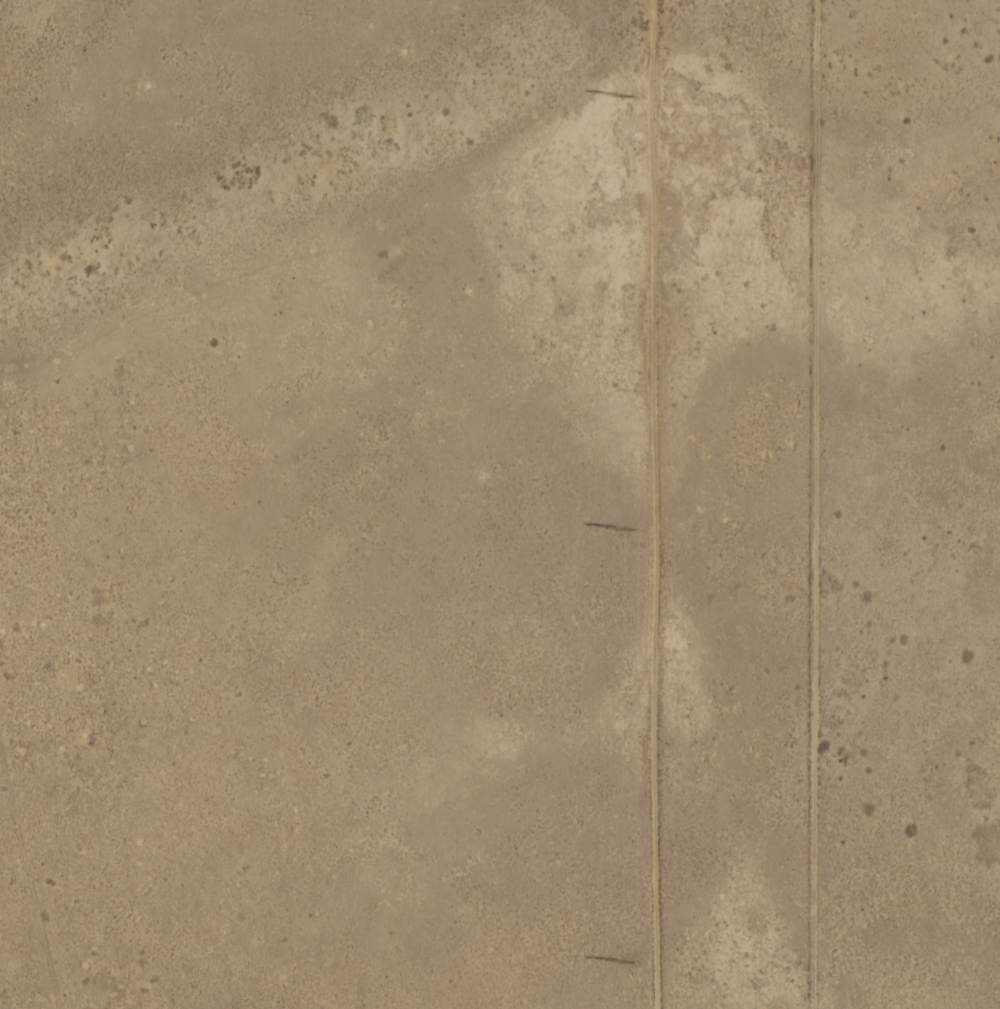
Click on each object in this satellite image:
power tower: (631, 97)
power tower: (634, 528)
power tower: (628, 960)

